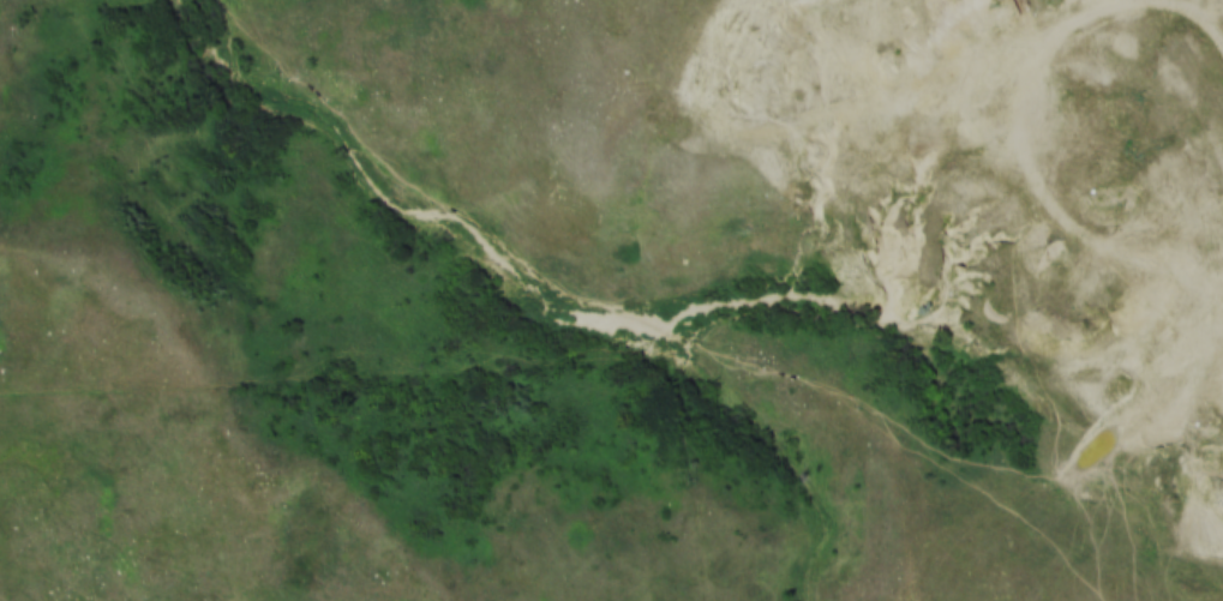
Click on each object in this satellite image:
road: (1073, 8)
quarry: (997, 178)
road: (1079, 397)

